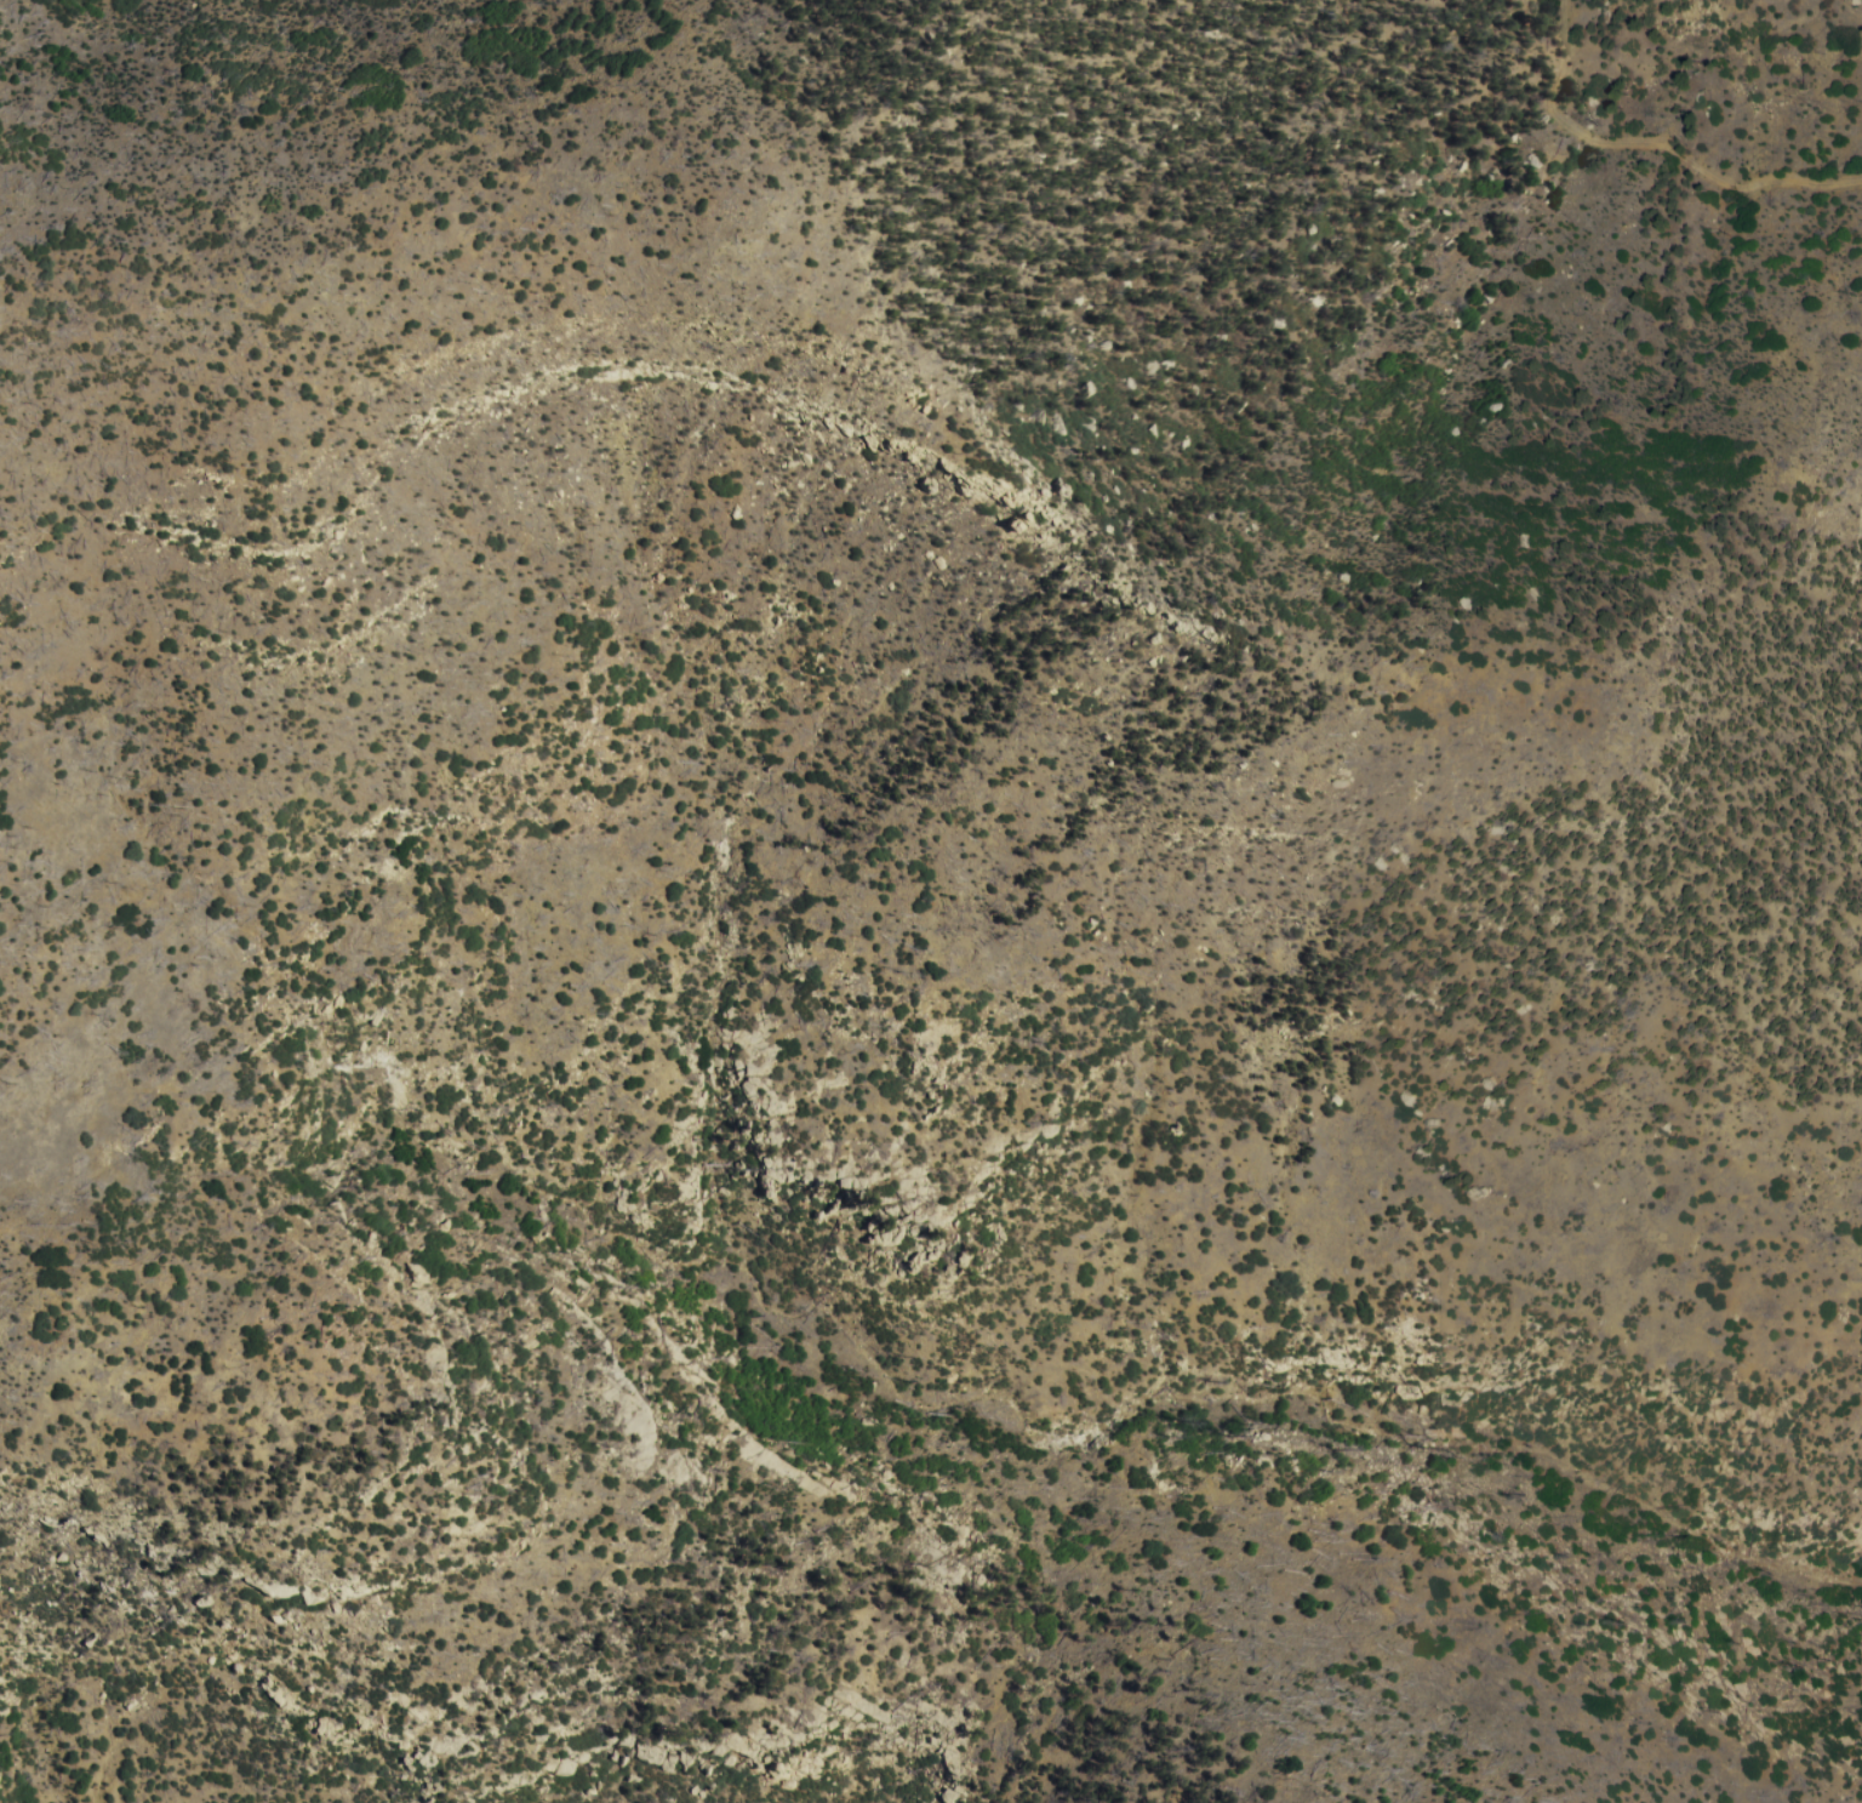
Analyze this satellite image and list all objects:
road: (1653, 143)

